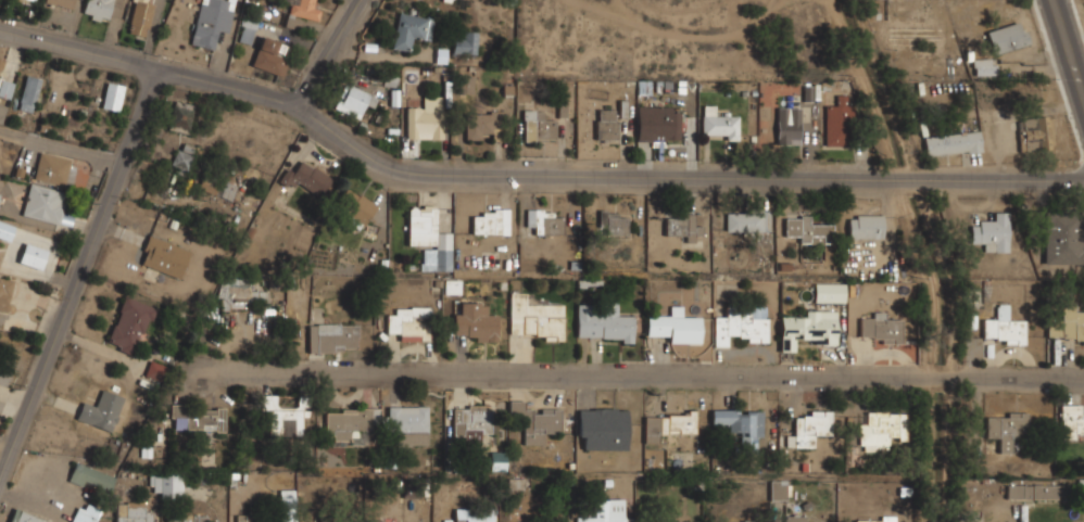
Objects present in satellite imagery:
building: (446, 0)
building: (29, 1)
building: (61, 2)
building: (102, 9)
building: (303, 9)
building: (139, 16)
building: (211, 21)
building: (247, 27)
building: (411, 29)
building: (1008, 36)
building: (464, 41)
road: (1067, 50)
road: (319, 52)
building: (269, 55)
building: (1, 66)
building: (984, 66)
building: (464, 85)
building: (3, 87)
building: (28, 92)
building: (112, 96)
building: (356, 99)
building: (562, 107)
building: (1, 113)
building: (180, 115)
building: (656, 118)
building: (837, 122)
building: (424, 123)
building: (480, 123)
building: (607, 123)
building: (719, 123)
building: (538, 125)
building: (787, 125)
building: (1034, 132)
building: (953, 142)
building: (182, 155)
building: (51, 167)
road: (528, 173)
building: (306, 177)
building: (227, 189)
building: (43, 202)
building: (354, 204)
building: (544, 219)
building: (746, 219)
building: (486, 220)
building: (614, 221)
building: (681, 225)
building: (866, 226)
building: (807, 229)
building: (991, 231)
building: (430, 234)
building: (1063, 238)
building: (33, 255)
building: (163, 255)
road: (84, 276)
building: (452, 287)
building: (239, 289)
building: (4, 291)
building: (829, 292)
building: (533, 317)
building: (409, 321)
building: (603, 321)
building: (130, 322)
building: (475, 322)
building: (1067, 323)
building: (741, 324)
building: (675, 326)
building: (1003, 326)
building: (805, 327)
building: (880, 328)
building: (332, 336)
building: (154, 371)
road: (638, 374)
building: (100, 409)
building: (201, 417)
building: (280, 418)
building: (1071, 419)
building: (534, 420)
building: (349, 421)
building: (470, 421)
building: (408, 422)
building: (740, 422)
building: (810, 426)
building: (881, 426)
building: (1005, 426)
building: (602, 428)
building: (664, 436)
building: (497, 460)
building: (91, 478)
building: (167, 484)
building: (778, 488)
building: (1031, 491)
building: (604, 511)
building: (131, 512)
building: (85, 513)
building: (470, 514)
building: (24, 517)
building: (973, 517)
building: (244, 518)
building: (796, 518)
building: (187, 519)
building: (337, 521)
building: (388, 521)
building: (718, 521)
building: (735, 521)
building: (869, 521)

